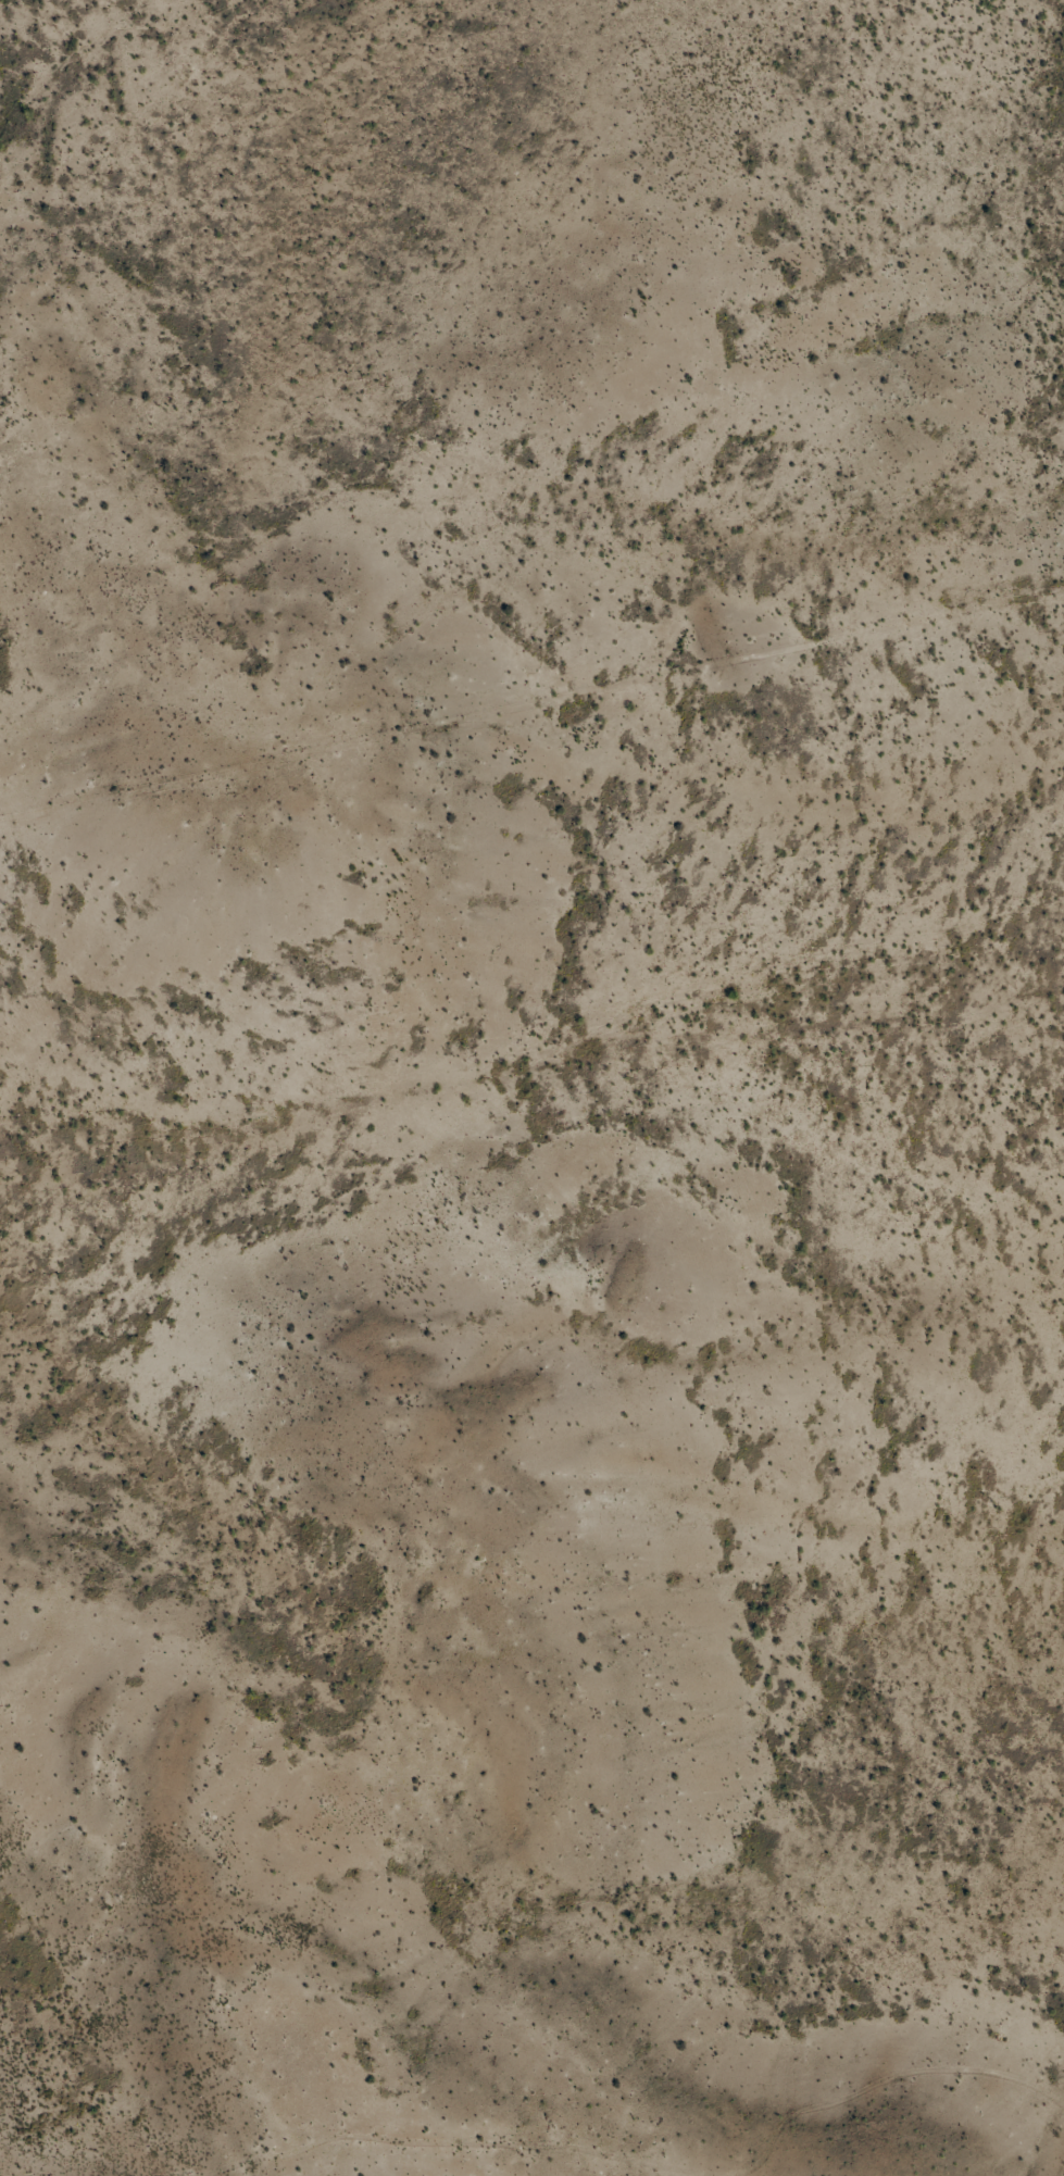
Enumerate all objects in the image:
road: (153, 74)
road: (938, 2123)
road: (101, 2127)
road: (413, 2158)

